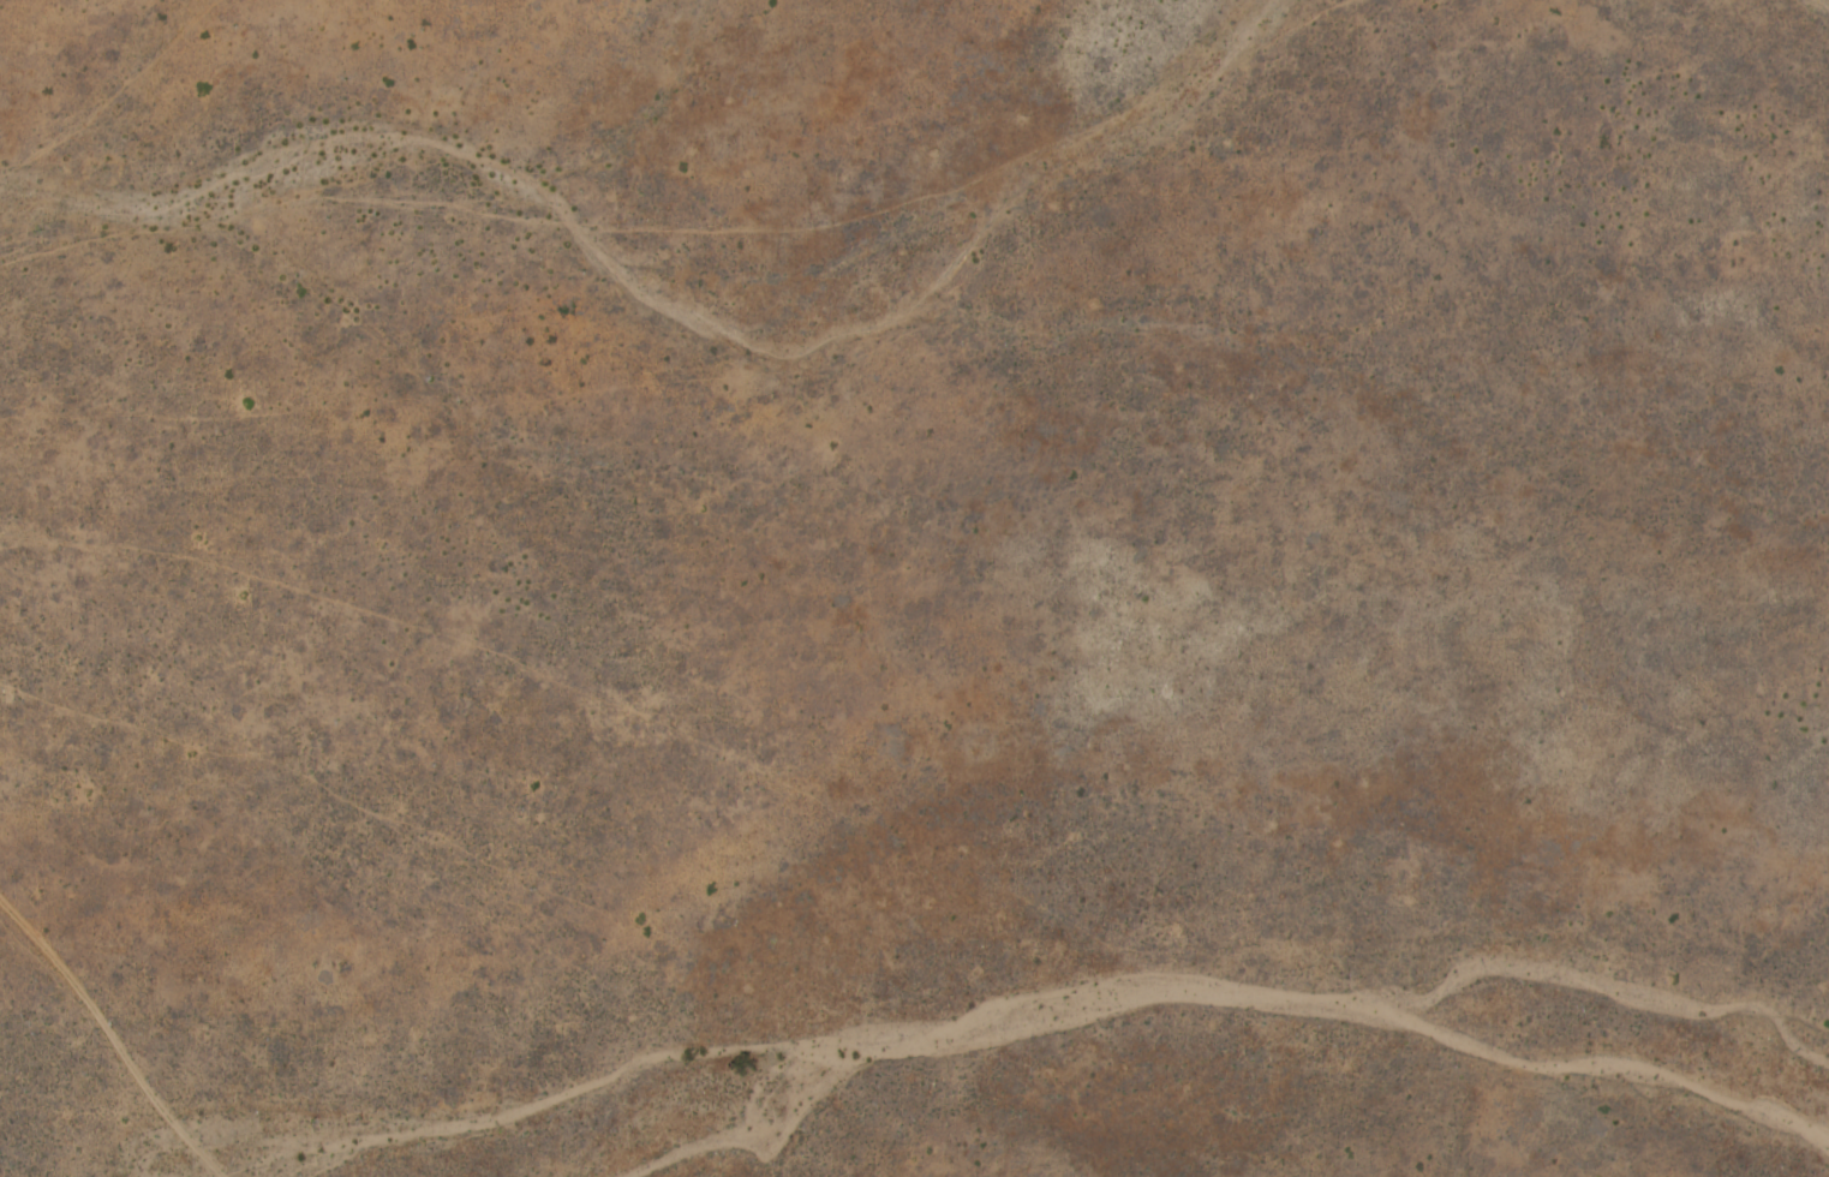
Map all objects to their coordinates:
road: (108, 1029)

